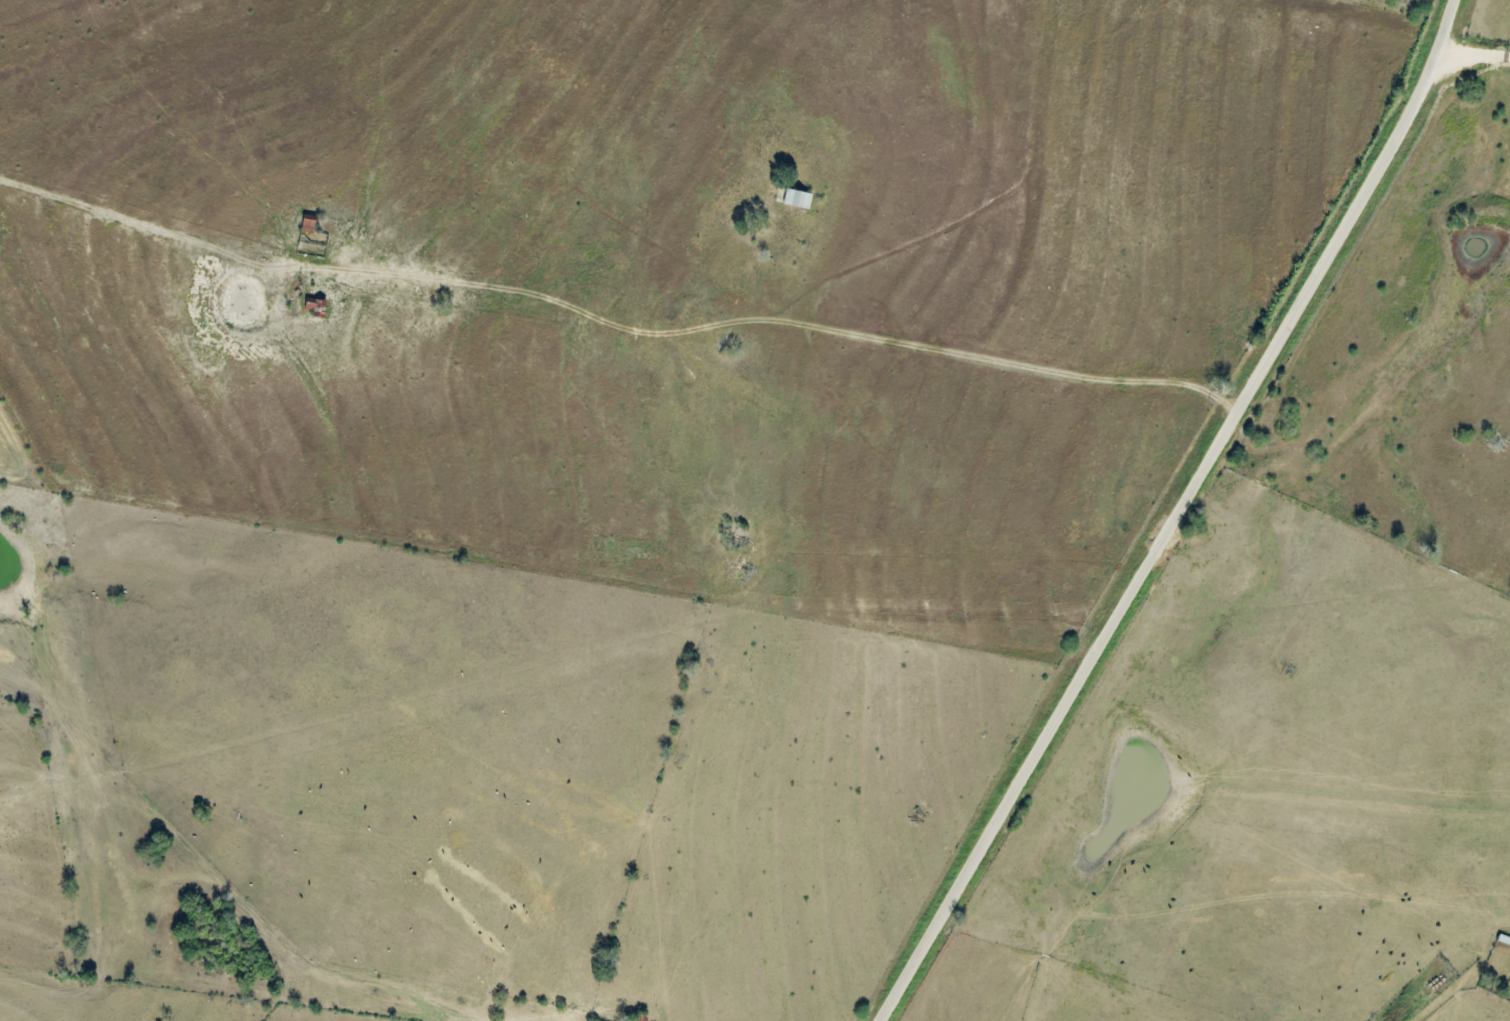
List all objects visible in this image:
building: (798, 198)
road: (774, 339)
road: (1178, 515)
building: (1503, 939)

